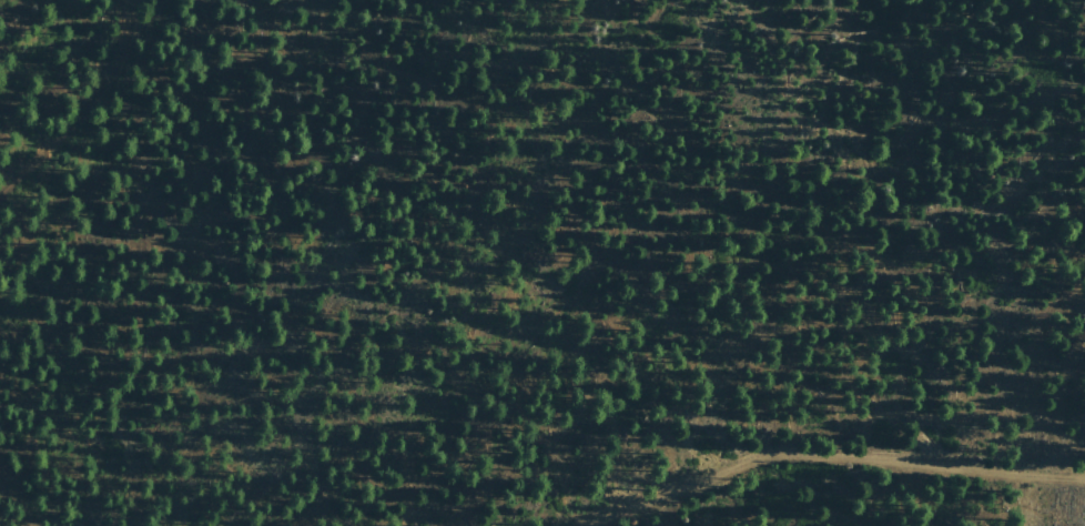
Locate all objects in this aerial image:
road: (84, 104)
road: (831, 456)
road: (14, 504)

